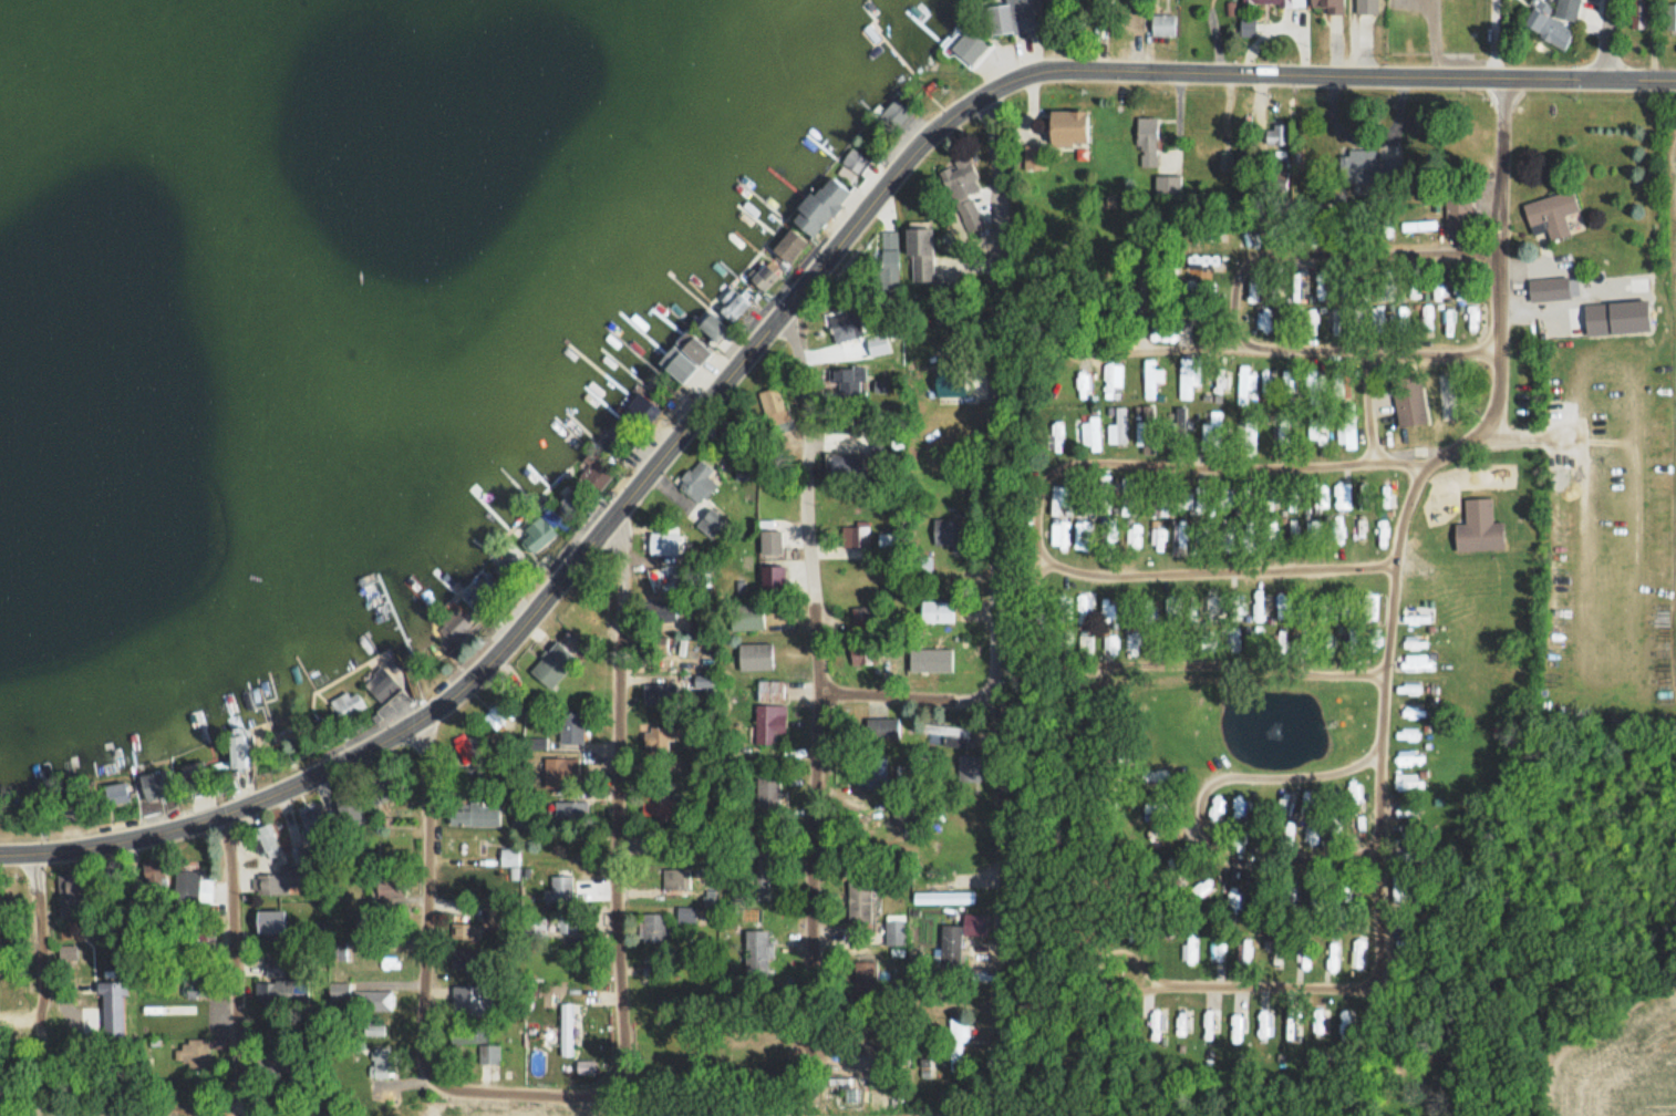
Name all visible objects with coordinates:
building: (1266, 2)
building: (1327, 4)
building: (1366, 6)
building: (1642, 13)
building: (1670, 15)
building: (1013, 17)
building: (1135, 18)
building: (1553, 20)
building: (1162, 24)
road: (1326, 39)
road: (1506, 39)
road: (1610, 41)
building: (969, 45)
building: (893, 114)
building: (1068, 126)
building: (1276, 134)
building: (1146, 142)
building: (1359, 163)
building: (1167, 184)
building: (963, 190)
building: (820, 206)
building: (1458, 213)
building: (1551, 214)
building: (1418, 225)
building: (1208, 232)
building: (1249, 236)
building: (789, 247)
building: (920, 254)
building: (1203, 259)
building: (889, 260)
building: (1256, 288)
building: (1440, 288)
building: (1549, 288)
building: (1297, 290)
building: (1417, 290)
road: (1497, 292)
building: (736, 302)
road: (1233, 303)
road: (784, 310)
building: (1200, 317)
building: (1472, 317)
building: (1449, 322)
building: (1165, 335)
building: (695, 345)
road: (1152, 348)
building: (1113, 376)
building: (1187, 376)
building: (1245, 376)
building: (1151, 378)
building: (1266, 380)
building: (1289, 380)
building: (1342, 387)
building: (1315, 390)
building: (1409, 402)
building: (770, 403)
building: (637, 406)
building: (1316, 426)
building: (1346, 426)
building: (1118, 427)
building: (1147, 428)
building: (1176, 430)
building: (1280, 431)
building: (1211, 432)
building: (1249, 432)
building: (1090, 433)
building: (883, 456)
building: (697, 482)
building: (1105, 493)
building: (1318, 496)
building: (1342, 496)
building: (1362, 496)
building: (1055, 498)
building: (1274, 498)
building: (1249, 499)
building: (1225, 500)
building: (1295, 502)
building: (1158, 503)
building: (1203, 504)
building: (711, 523)
building: (1358, 528)
building: (1292, 529)
building: (1315, 529)
building: (1338, 530)
building: (540, 531)
building: (1380, 531)
building: (1062, 534)
building: (1083, 534)
building: (1478, 534)
building: (1181, 535)
building: (887, 541)
building: (663, 544)
building: (772, 544)
road: (1395, 555)
building: (509, 557)
building: (921, 568)
road: (1002, 591)
building: (1261, 606)
building: (1237, 608)
building: (1369, 609)
building: (937, 610)
building: (1107, 610)
building: (1416, 616)
building: (746, 617)
building: (860, 618)
building: (1085, 628)
building: (1258, 633)
building: (1235, 638)
building: (1064, 640)
building: (1281, 640)
building: (1415, 643)
building: (1109, 644)
building: (939, 648)
building: (861, 651)
building: (755, 655)
building: (1416, 662)
building: (552, 663)
road: (1242, 664)
building: (382, 684)
building: (1408, 690)
building: (659, 693)
road: (913, 695)
road: (823, 699)
building: (343, 707)
building: (770, 707)
road: (1384, 707)
building: (1410, 713)
building: (571, 727)
building: (881, 727)
building: (945, 728)
building: (655, 735)
building: (1408, 736)
building: (464, 746)
building: (1409, 758)
building: (559, 773)
road: (1275, 776)
building: (1408, 782)
building: (155, 785)
building: (1354, 790)
building: (768, 794)
road: (620, 796)
building: (346, 803)
building: (663, 805)
building: (1241, 807)
building: (570, 808)
building: (1217, 808)
building: (1260, 810)
building: (911, 812)
building: (474, 813)
building: (1405, 814)
building: (318, 826)
building: (1166, 830)
building: (1310, 831)
building: (509, 856)
building: (1182, 857)
building: (758, 866)
building: (153, 874)
building: (676, 878)
building: (280, 882)
building: (190, 886)
building: (390, 887)
building: (73, 888)
building: (559, 888)
building: (861, 895)
building: (942, 897)
building: (1234, 898)
building: (690, 914)
building: (269, 922)
building: (567, 923)
building: (539, 926)
building: (655, 926)
building: (467, 929)
building: (950, 945)
building: (1189, 947)
building: (1244, 948)
building: (1217, 950)
building: (1277, 951)
building: (1332, 951)
building: (1359, 953)
building: (1305, 954)
building: (756, 955)
building: (370, 959)
building: (464, 959)
road: (240, 961)
road: (42, 962)
road: (421, 978)
building: (280, 991)
building: (338, 991)
building: (371, 1000)
building: (1183, 1020)
building: (1211, 1020)
building: (1238, 1020)
building: (1158, 1021)
building: (1321, 1022)
building: (1346, 1022)
building: (374, 1026)
building: (573, 1035)
building: (956, 1038)
building: (195, 1057)
building: (381, 1062)

